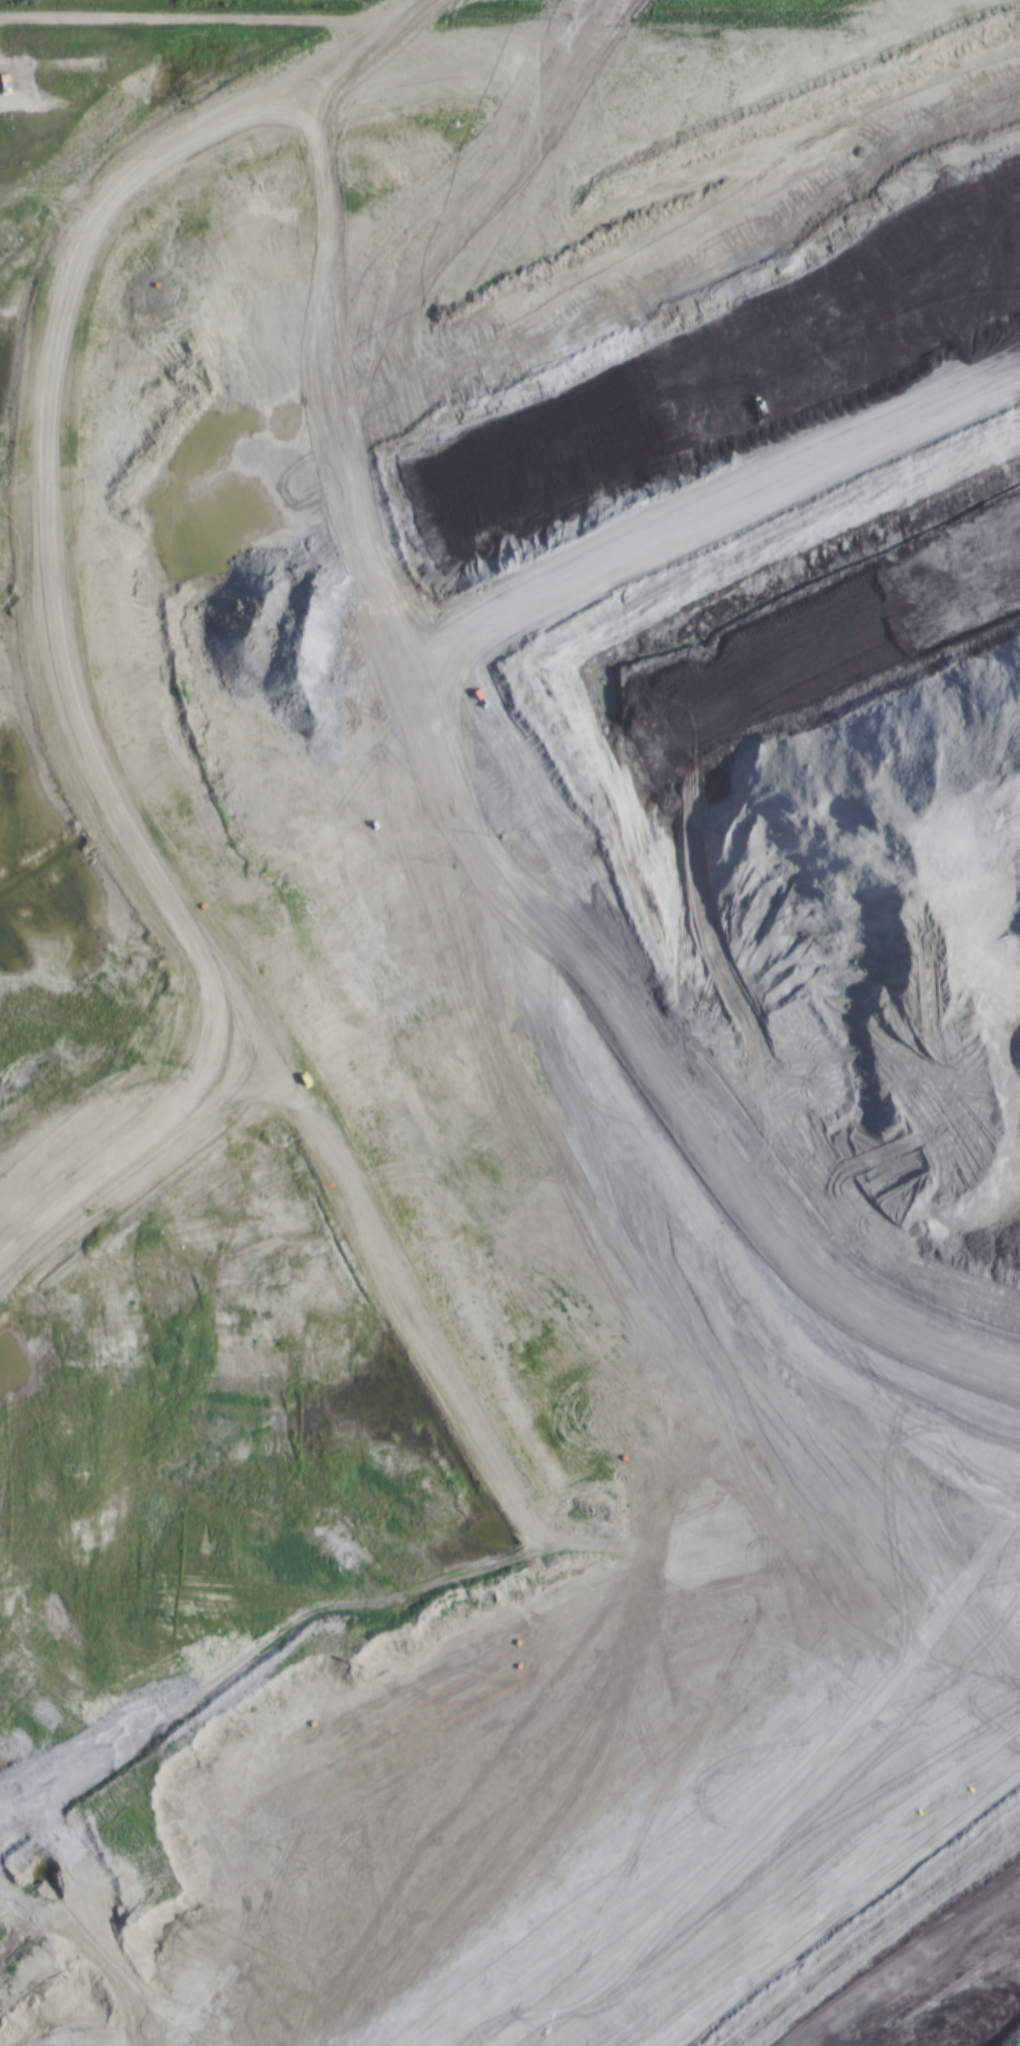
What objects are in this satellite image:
road: (509, 18)

